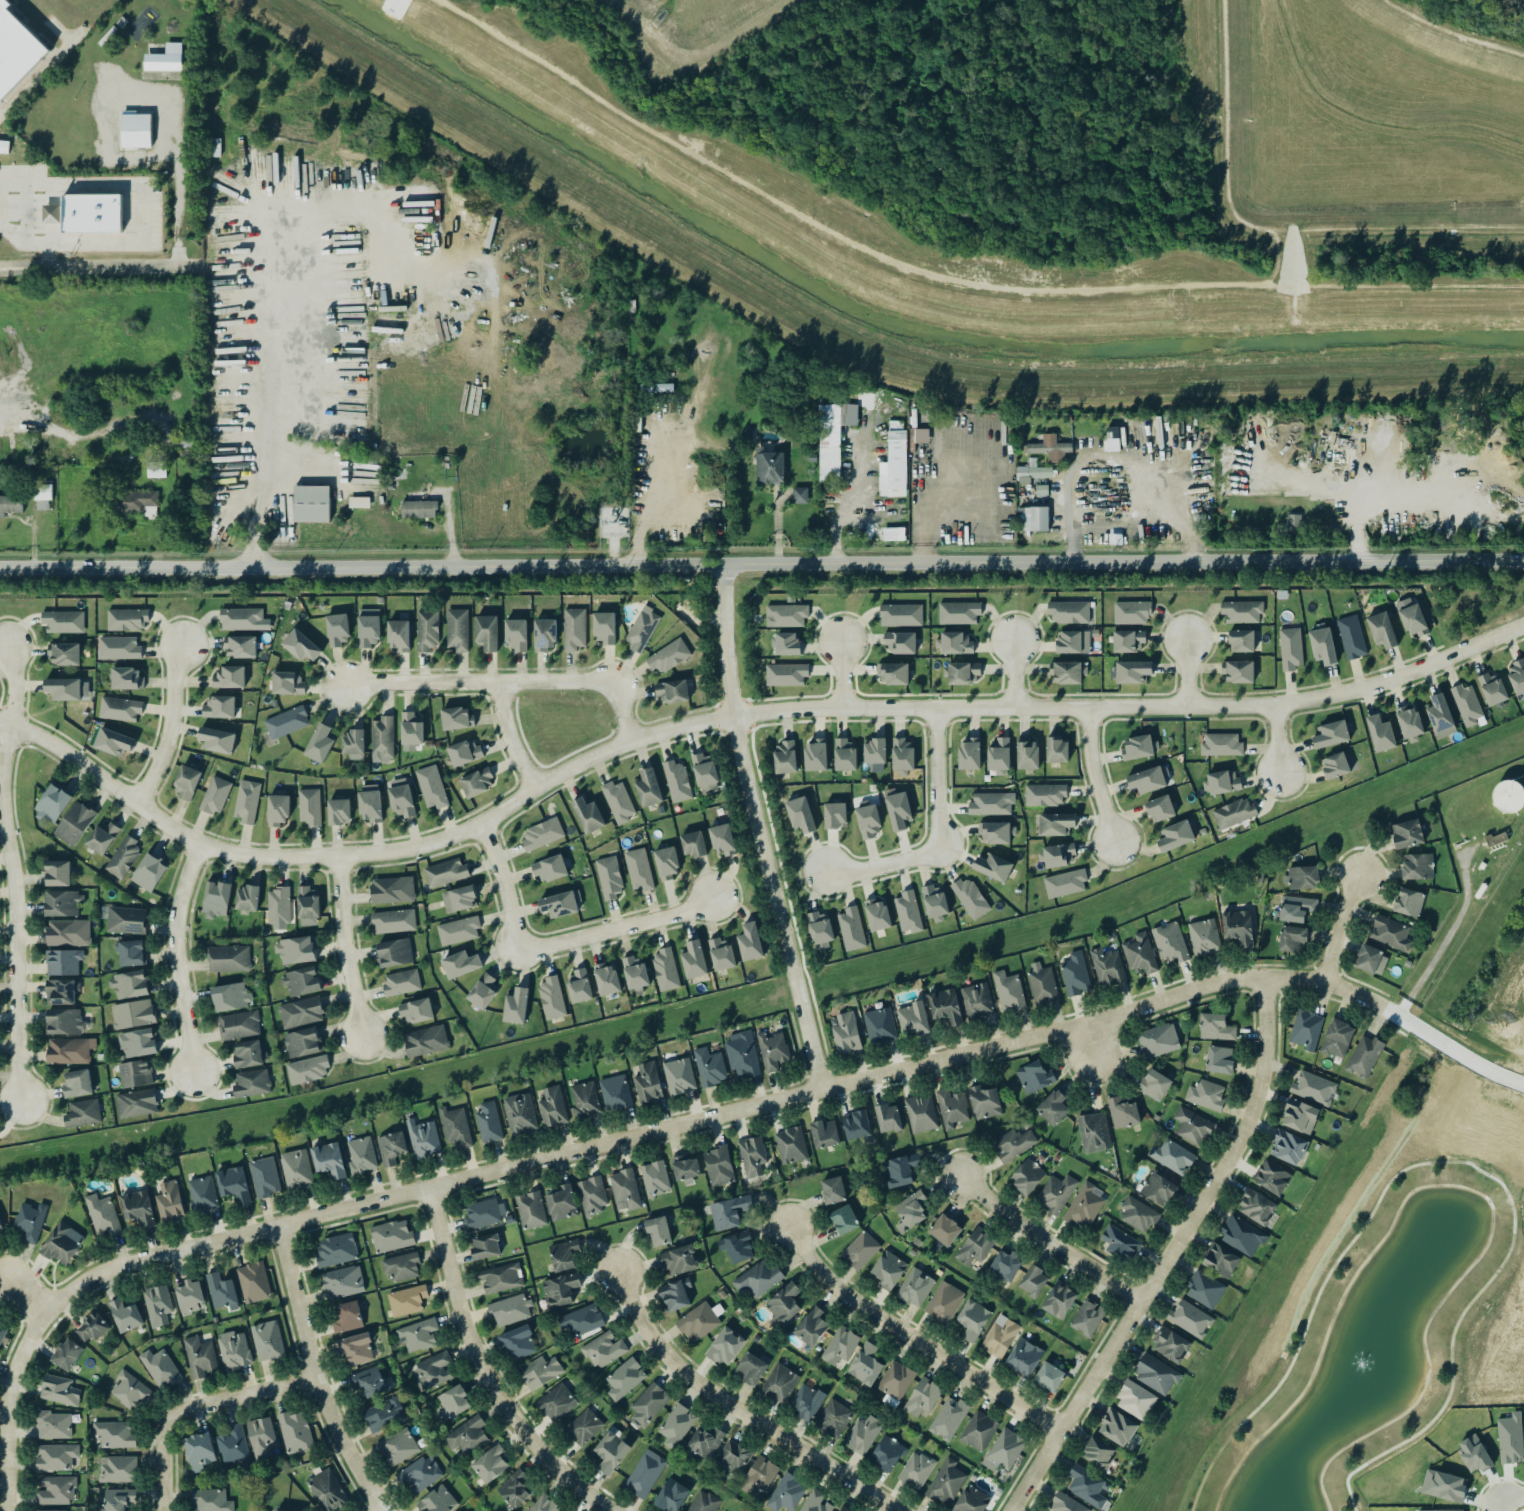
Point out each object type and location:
building: (16, 50)
building: (164, 58)
road: (160, 95)
building: (136, 129)
building: (4, 146)
building: (212, 147)
road: (146, 190)
building: (52, 213)
building: (91, 213)
road: (24, 214)
road: (32, 243)
road: (99, 270)
road: (272, 384)
building: (657, 387)
road: (6, 408)
building: (849, 414)
building: (922, 435)
building: (1113, 438)
building: (829, 441)
building: (1049, 448)
road: (1115, 460)
building: (895, 463)
building: (769, 467)
building: (156, 469)
building: (1032, 471)
road: (655, 494)
building: (800, 495)
building: (42, 496)
building: (133, 501)
building: (358, 502)
road: (847, 502)
building: (312, 503)
building: (11, 504)
building: (418, 509)
building: (1033, 518)
building: (891, 533)
road: (761, 564)
building: (1241, 611)
building: (958, 612)
building: (1069, 612)
building: (1131, 612)
building: (901, 614)
building: (786, 615)
building: (1411, 617)
building: (126, 619)
building: (243, 619)
building: (63, 621)
building: (368, 627)
building: (604, 627)
building: (642, 628)
building: (337, 629)
building: (457, 629)
building: (574, 629)
building: (1382, 629)
building: (427, 631)
building: (487, 632)
building: (516, 634)
building: (399, 635)
building: (545, 635)
building: (1351, 637)
building: (1128, 640)
building: (1241, 640)
building: (901, 641)
building: (1073, 641)
building: (788, 643)
building: (956, 643)
building: (301, 645)
building: (1323, 645)
building: (241, 646)
building: (118, 648)
building: (1291, 648)
building: (64, 653)
building: (668, 656)
building: (1133, 671)
building: (1239, 671)
building: (1068, 672)
building: (894, 673)
building: (963, 673)
road: (1014, 673)
road: (1185, 673)
building: (786, 674)
road: (839, 674)
building: (229, 676)
building: (1516, 676)
building: (126, 678)
building: (287, 682)
road: (507, 685)
building: (63, 688)
building: (1492, 688)
road: (16, 689)
building: (672, 691)
building: (1467, 704)
building: (219, 706)
building: (120, 709)
road: (735, 716)
building: (1440, 716)
building: (456, 718)
building: (286, 722)
building: (1410, 723)
road: (171, 727)
building: (411, 730)
building: (1380, 733)
building: (1331, 734)
road: (1278, 738)
building: (217, 739)
building: (382, 739)
road: (507, 739)
building: (113, 742)
building: (320, 742)
building: (353, 744)
building: (1221, 744)
building: (1140, 747)
building: (1057, 749)
building: (464, 752)
building: (845, 754)
building: (969, 754)
building: (1027, 754)
building: (815, 755)
building: (874, 755)
building: (902, 755)
building: (998, 755)
building: (785, 757)
building: (1335, 765)
building: (705, 773)
road: (1094, 777)
building: (1146, 780)
building: (677, 781)
building: (1223, 781)
building: (186, 782)
building: (477, 782)
building: (431, 787)
building: (648, 788)
building: (1044, 794)
building: (215, 795)
building: (1509, 796)
building: (401, 797)
building: (247, 801)
building: (618, 801)
building: (53, 803)
building: (370, 803)
building: (989, 804)
building: (309, 806)
building: (1160, 808)
building: (278, 810)
building: (898, 810)
building: (338, 811)
building: (1233, 813)
building: (800, 814)
building: (588, 815)
building: (835, 815)
building: (868, 820)
building: (74, 823)
building: (1056, 823)
road: (756, 830)
building: (997, 832)
building: (1407, 833)
building: (542, 834)
building: (1175, 835)
building: (102, 836)
building: (1496, 838)
building: (722, 839)
road: (942, 840)
building: (693, 844)
building: (1058, 855)
building: (123, 856)
building: (667, 862)
building: (1417, 866)
building: (993, 867)
building: (549, 868)
building: (638, 869)
building: (150, 871)
building: (445, 872)
building: (58, 873)
building: (609, 877)
building: (1302, 877)
building: (1065, 883)
building: (391, 889)
building: (217, 898)
building: (247, 898)
building: (459, 898)
building: (970, 898)
building: (1409, 902)
building: (63, 903)
building: (560, 903)
building: (935, 903)
building: (308, 906)
building: (278, 908)
building: (1296, 908)
building: (907, 912)
road: (18, 914)
building: (877, 914)
building: (126, 920)
building: (393, 921)
building: (1238, 926)
building: (851, 928)
road: (1341, 929)
building: (458, 930)
building: (820, 930)
building: (68, 932)
building: (1391, 933)
building: (1204, 937)
building: (1292, 937)
building: (750, 942)
building: (1170, 942)
road: (1442, 942)
road: (551, 945)
road: (346, 948)
building: (295, 950)
building: (394, 952)
building: (132, 953)
building: (721, 953)
building: (1139, 953)
building: (229, 958)
road: (180, 959)
building: (1368, 959)
building: (694, 960)
building: (63, 961)
building: (460, 964)
building: (1107, 967)
building: (665, 969)
building: (635, 973)
building: (1075, 973)
building: (606, 979)
building: (301, 981)
building: (401, 982)
building: (1042, 983)
building: (129, 984)
road: (1343, 985)
building: (579, 986)
building: (483, 991)
building: (1008, 991)
building: (61, 992)
building: (231, 996)
building: (551, 998)
building: (977, 1000)
building: (516, 1006)
building: (945, 1006)
building: (416, 1011)
building: (300, 1012)
building: (133, 1013)
building: (913, 1018)
building: (65, 1021)
building: (238, 1025)
building: (879, 1025)
building: (1215, 1027)
building: (1306, 1029)
building: (845, 1032)
building: (1337, 1038)
building: (426, 1040)
building: (1158, 1040)
road: (1094, 1041)
building: (302, 1042)
building: (138, 1043)
building: (70, 1050)
building: (772, 1050)
building: (247, 1053)
building: (743, 1055)
building: (1364, 1056)
building: (1219, 1059)
road: (1462, 1059)
building: (710, 1067)
building: (307, 1069)
building: (135, 1073)
building: (679, 1076)
building: (1034, 1077)
building: (648, 1082)
building: (77, 1083)
building: (251, 1083)
building: (1151, 1084)
building: (1314, 1088)
building: (615, 1092)
building: (1206, 1094)
building: (585, 1099)
building: (985, 1102)
building: (136, 1103)
building: (552, 1107)
building: (1053, 1107)
building: (952, 1108)
building: (1123, 1112)
building: (82, 1113)
building: (519, 1113)
building: (921, 1113)
building: (1300, 1116)
building: (888, 1118)
building: (488, 1122)
building: (856, 1124)
building: (1191, 1125)
building: (455, 1126)
road: (657, 1129)
building: (1094, 1132)
building: (824, 1133)
building: (423, 1138)
building: (1014, 1142)
building: (790, 1145)
building: (391, 1147)
building: (1288, 1147)
building: (361, 1154)
building: (753, 1156)
building: (1172, 1156)
building: (329, 1159)
road: (1449, 1160)
building: (718, 1166)
building: (296, 1169)
building: (686, 1169)
building: (901, 1170)
building: (1026, 1176)
building: (264, 1177)
building: (1272, 1177)
building: (654, 1178)
building: (234, 1183)
building: (1157, 1188)
building: (624, 1189)
building: (833, 1190)
building: (1056, 1192)
building: (202, 1194)
building: (592, 1194)
building: (169, 1201)
building: (562, 1203)
building: (1085, 1205)
building: (1256, 1206)
building: (138, 1207)
building: (531, 1209)
building: (729, 1211)
building: (910, 1211)
building: (483, 1213)
building: (1138, 1214)
building: (103, 1215)
building: (844, 1219)
building: (30, 1221)
building: (1, 1228)
building: (945, 1229)
building: (658, 1231)
building: (1242, 1235)
building: (392, 1236)
road: (1054, 1237)
building: (62, 1242)
building: (1120, 1243)
building: (486, 1246)
building: (737, 1246)
building: (975, 1248)
building: (336, 1250)
building: (860, 1250)
road: (1176, 1254)
building: (564, 1255)
building: (679, 1260)
building: (1221, 1261)
building: (1005, 1265)
building: (400, 1267)
building: (888, 1269)
building: (501, 1278)
building: (758, 1278)
building: (1033, 1280)
building: (343, 1281)
building: (253, 1282)
building: (915, 1287)
building: (560, 1289)
building: (1205, 1289)
building: (222, 1291)
road: (29, 1294)
building: (676, 1294)
building: (190, 1297)
building: (407, 1300)
building: (1059, 1300)
building: (943, 1302)
building: (784, 1303)
building: (157, 1304)
building: (508, 1310)
building: (125, 1315)
building: (346, 1317)
building: (1087, 1318)
building: (1190, 1318)
building: (973, 1319)
building: (581, 1320)
building: (700, 1320)
park: (1359, 1324)
building: (812, 1326)
building: (92, 1327)
road: (914, 1331)
building: (2, 1332)
building: (418, 1334)
building: (1000, 1336)
building: (267, 1341)
building: (518, 1343)
building: (1170, 1344)
building: (840, 1345)
building: (725, 1346)
building: (356, 1349)
building: (604, 1349)
building: (233, 1350)
building: (67, 1354)
building: (200, 1357)
building: (1024, 1357)
fountain: (1360, 1363)
building: (866, 1364)
building: (160, 1368)
building: (750, 1368)
road: (492, 1369)
building: (432, 1370)
building: (540, 1372)
road: (322, 1373)
building: (1156, 1374)
building: (1049, 1376)
building: (624, 1378)
building: (368, 1381)
building: (780, 1383)
building: (895, 1383)
building: (59, 1390)
building: (131, 1390)
building: (922, 1396)
building: (807, 1400)
building: (1135, 1400)
building: (452, 1402)
building: (557, 1402)
building: (648, 1402)
road: (201, 1403)
road: (13, 1405)
road: (748, 1408)
building: (384, 1414)
building: (948, 1417)
building: (834, 1418)
building: (53, 1425)
building: (676, 1425)
building: (583, 1426)
building: (1117, 1427)
building: (294, 1431)
building: (978, 1431)
building: (115, 1433)
building: (862, 1434)
building: (467, 1435)
building: (262, 1437)
building: (1510, 1438)
building: (705, 1442)
building: (233, 1445)
building: (398, 1446)
building: (1004, 1448)
building: (199, 1451)
building: (611, 1451)
building: (1098, 1452)
building: (887, 1453)
building: (1474, 1453)
building: (57, 1456)
building: (733, 1457)
building: (490, 1464)
building: (117, 1468)
building: (916, 1470)
building: (419, 1473)
building: (645, 1473)
building: (759, 1475)
building: (945, 1481)
building: (1089, 1486)
building: (1445, 1486)
building: (56, 1490)
building: (326, 1490)
building: (515, 1490)
building: (786, 1493)
building: (671, 1495)
road: (1510, 1498)
building: (118, 1499)
building: (210, 1500)
building: (437, 1500)
building: (971, 1500)
building: (703, 1501)
building: (815, 1502)
building: (544, 1504)
building: (1066, 1504)
building: (842, 1509)
building: (50, 1510)
building: (286, 1510)

